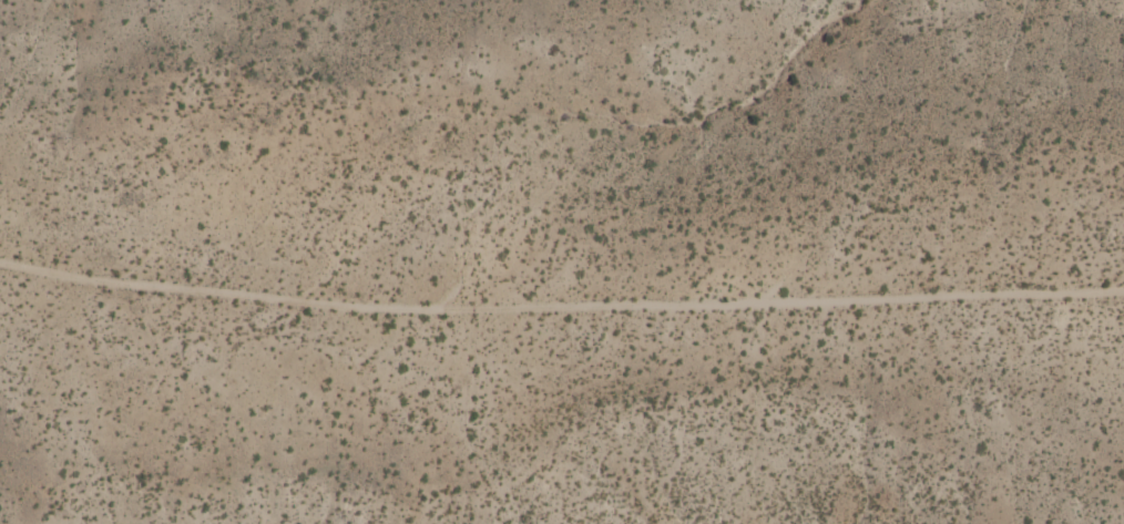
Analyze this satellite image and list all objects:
road: (560, 314)

